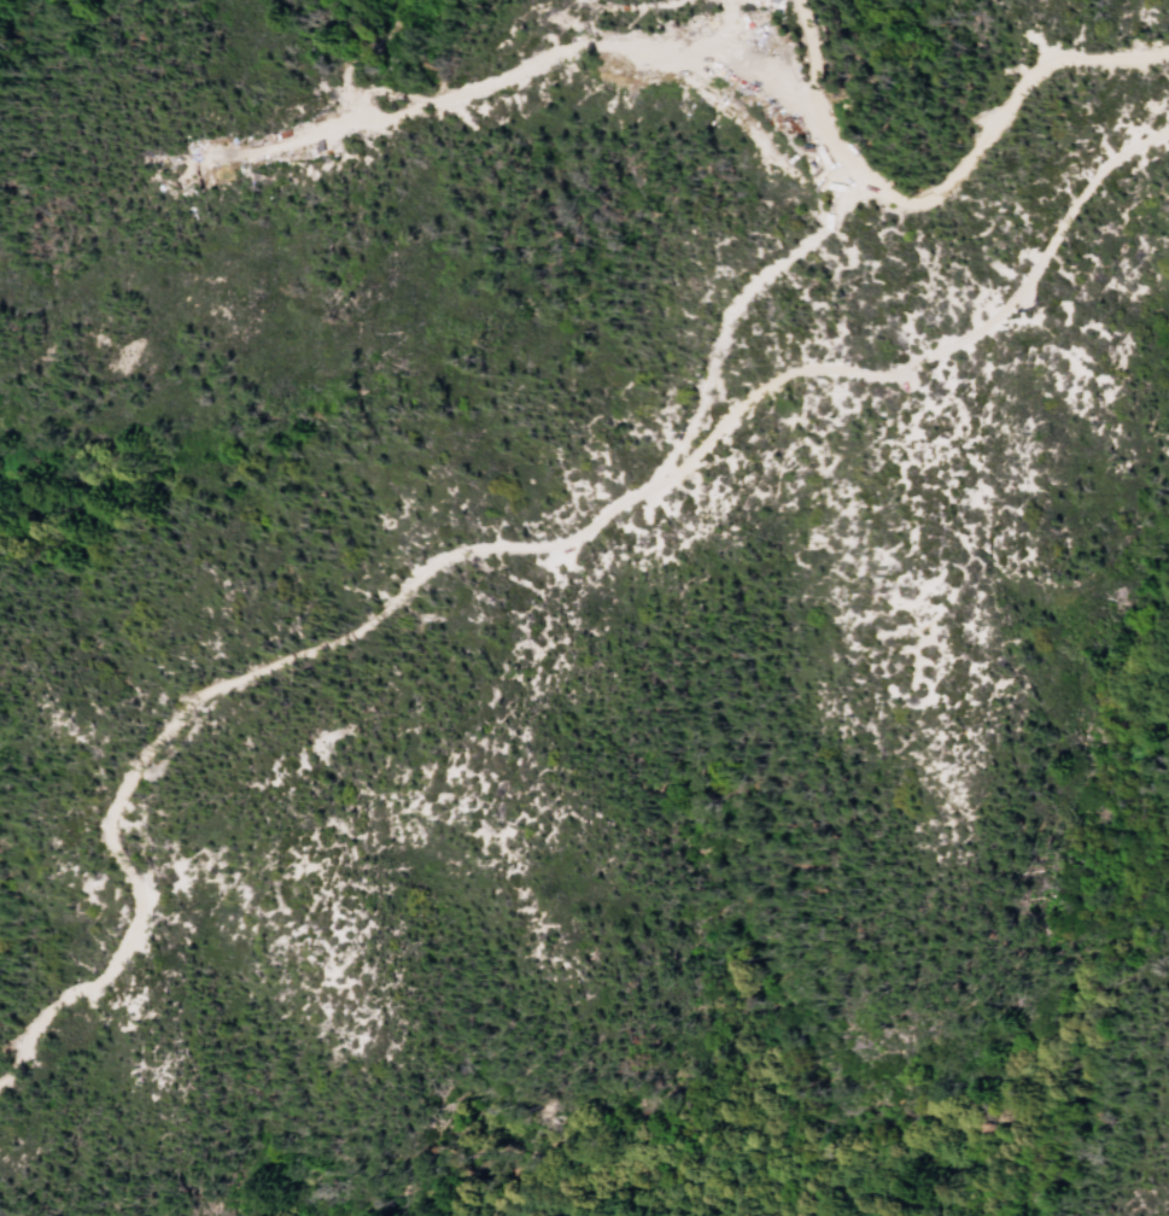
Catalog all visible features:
road: (813, 49)
road: (353, 59)
road: (735, 62)
road: (1052, 241)
road: (803, 251)
road: (705, 396)
road: (367, 620)

